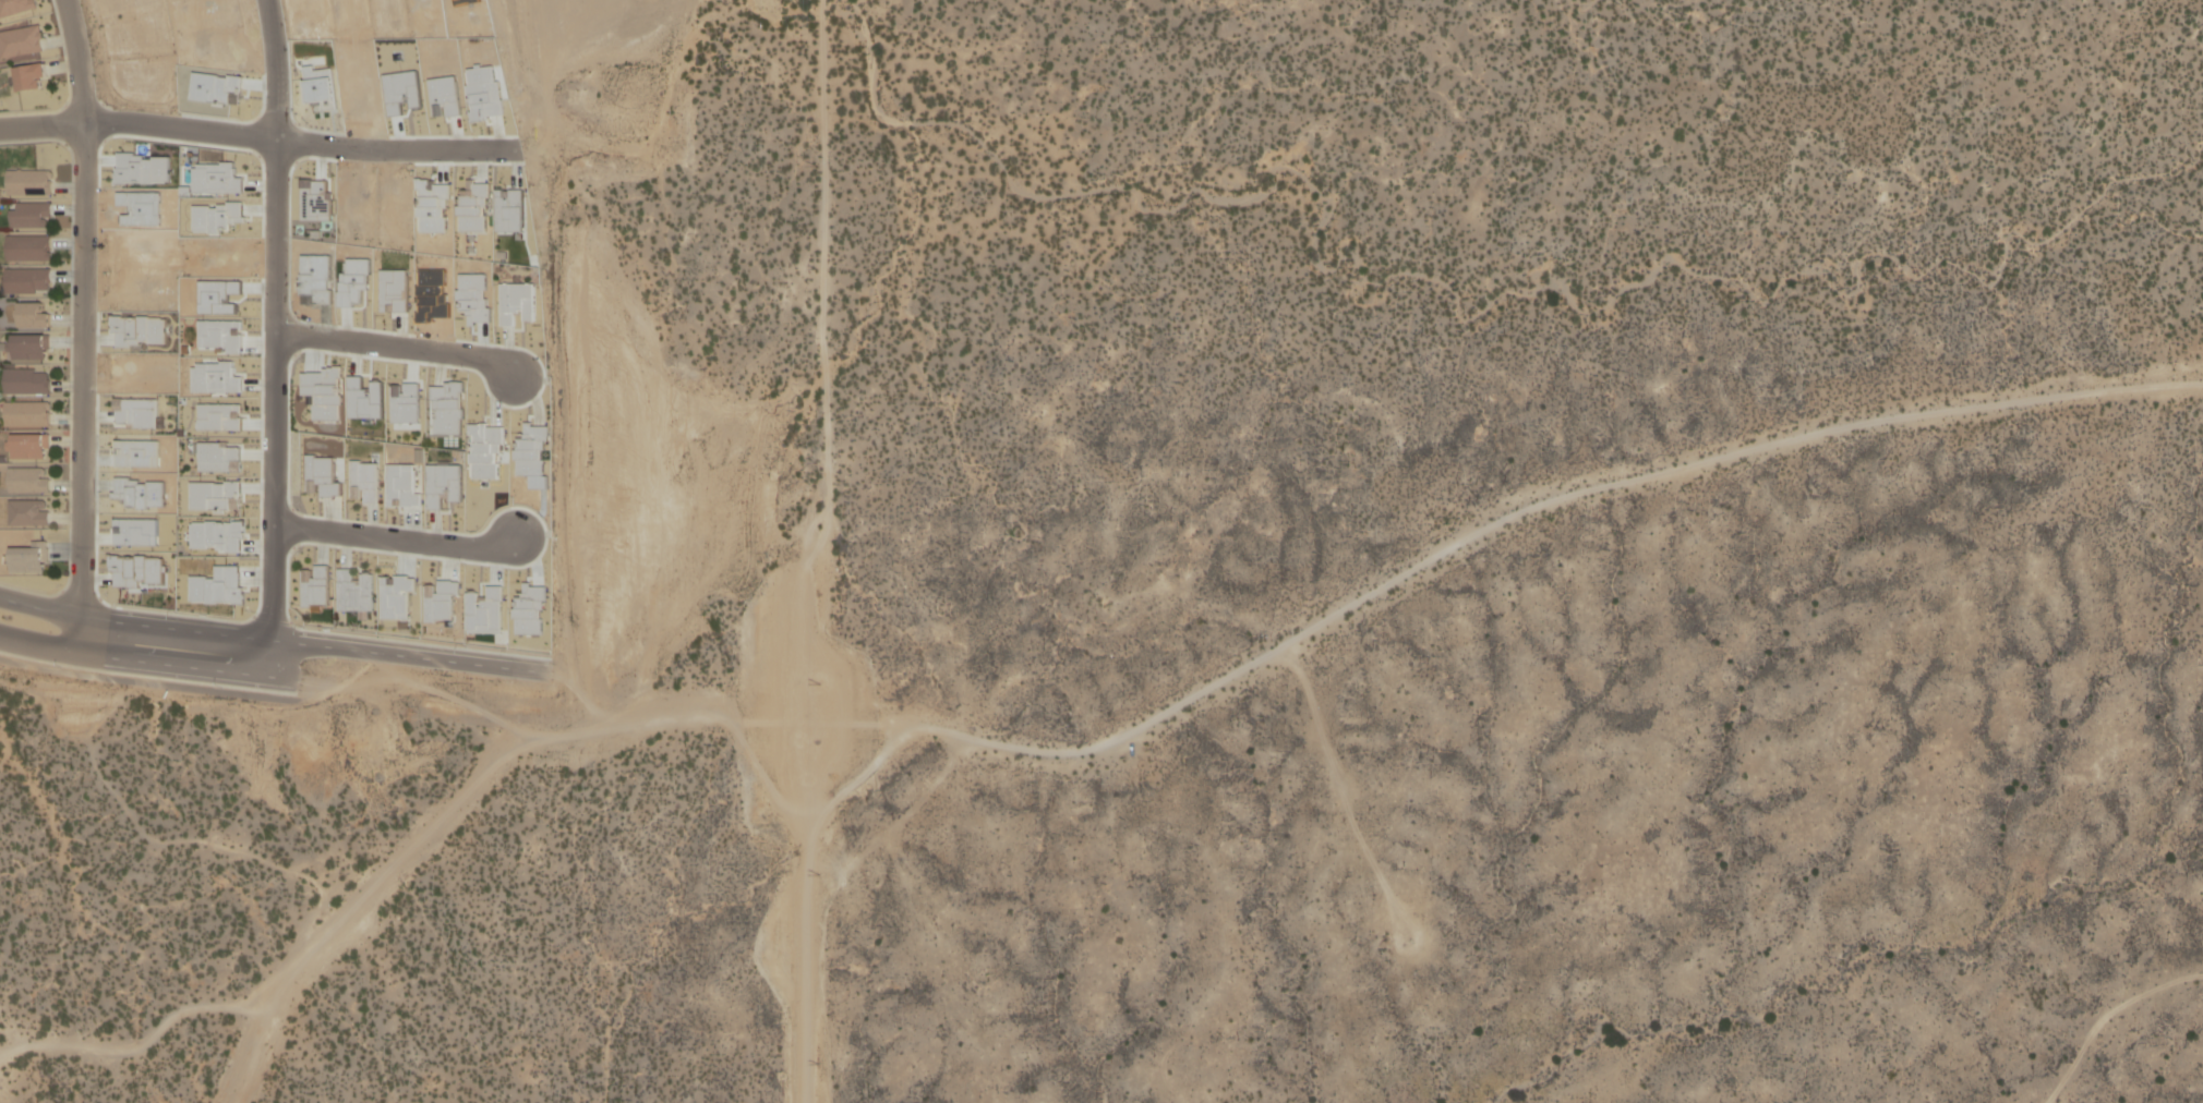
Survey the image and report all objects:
building: (15, 7)
building: (21, 40)
building: (29, 75)
road: (257, 138)
street lamp: (69, 162)
building: (27, 183)
building: (27, 216)
building: (27, 250)
building: (26, 281)
building: (33, 317)
road: (83, 325)
road: (267, 338)
road: (392, 347)
building: (29, 349)
building: (26, 383)
street lamp: (67, 396)
building: (26, 414)
building: (28, 445)
building: (27, 478)
building: (26, 512)
road: (393, 545)
road: (826, 551)
building: (31, 557)
road: (268, 641)
street lamp: (60, 666)
road: (261, 676)
road: (1148, 717)

